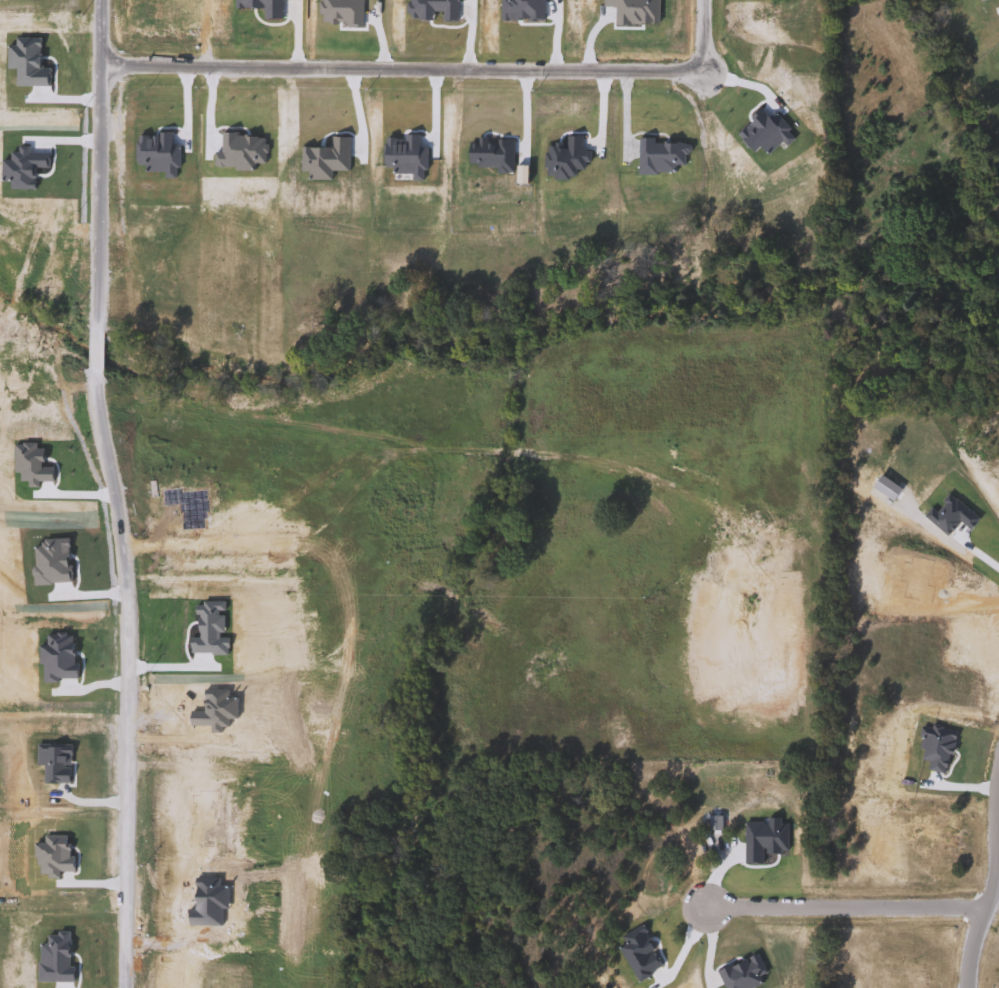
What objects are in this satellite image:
road: (425, 71)
road: (105, 493)
road: (391, 581)
road: (853, 912)
road: (985, 926)

